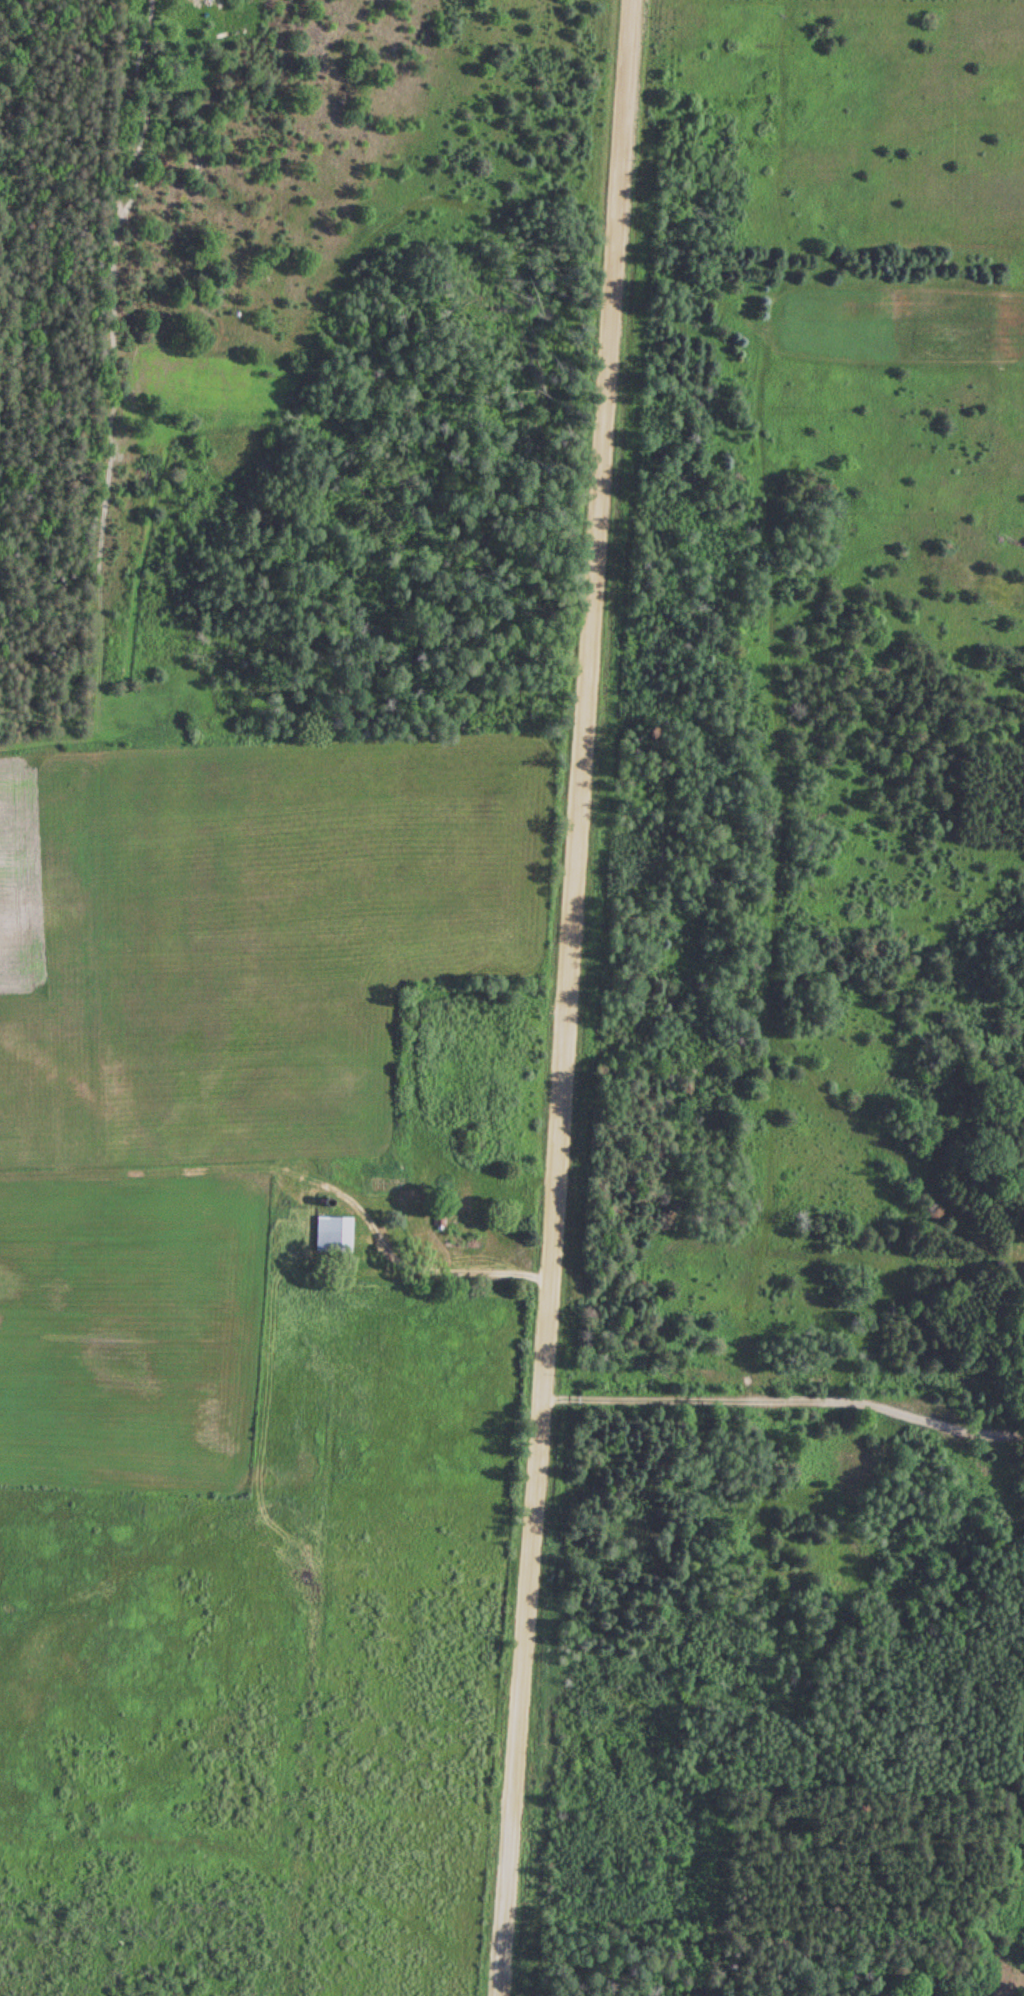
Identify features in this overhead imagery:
crop: (248, 934)
road: (560, 998)
building: (330, 1233)

